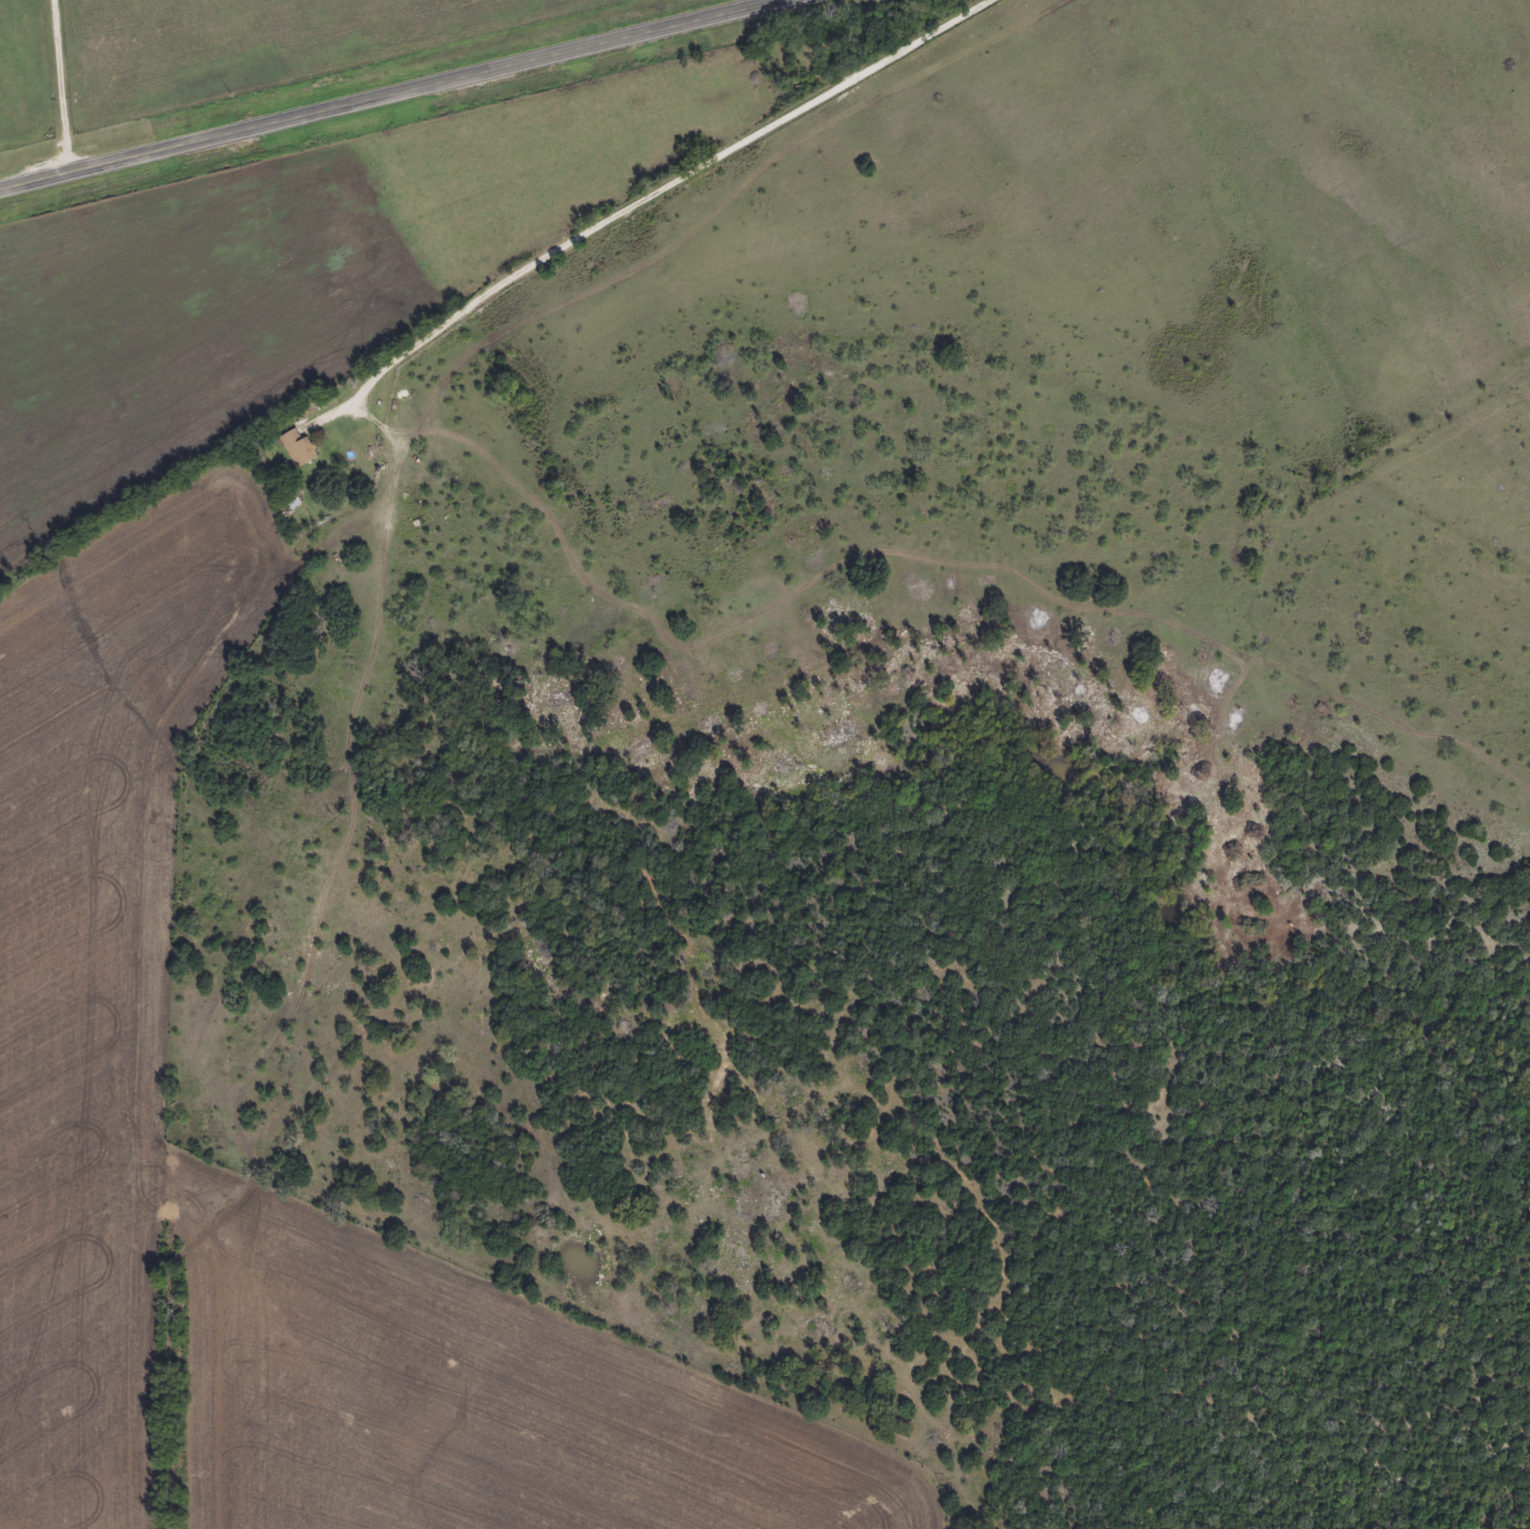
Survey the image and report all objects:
road: (62, 85)
road: (388, 94)
road: (554, 256)
building: (299, 447)

